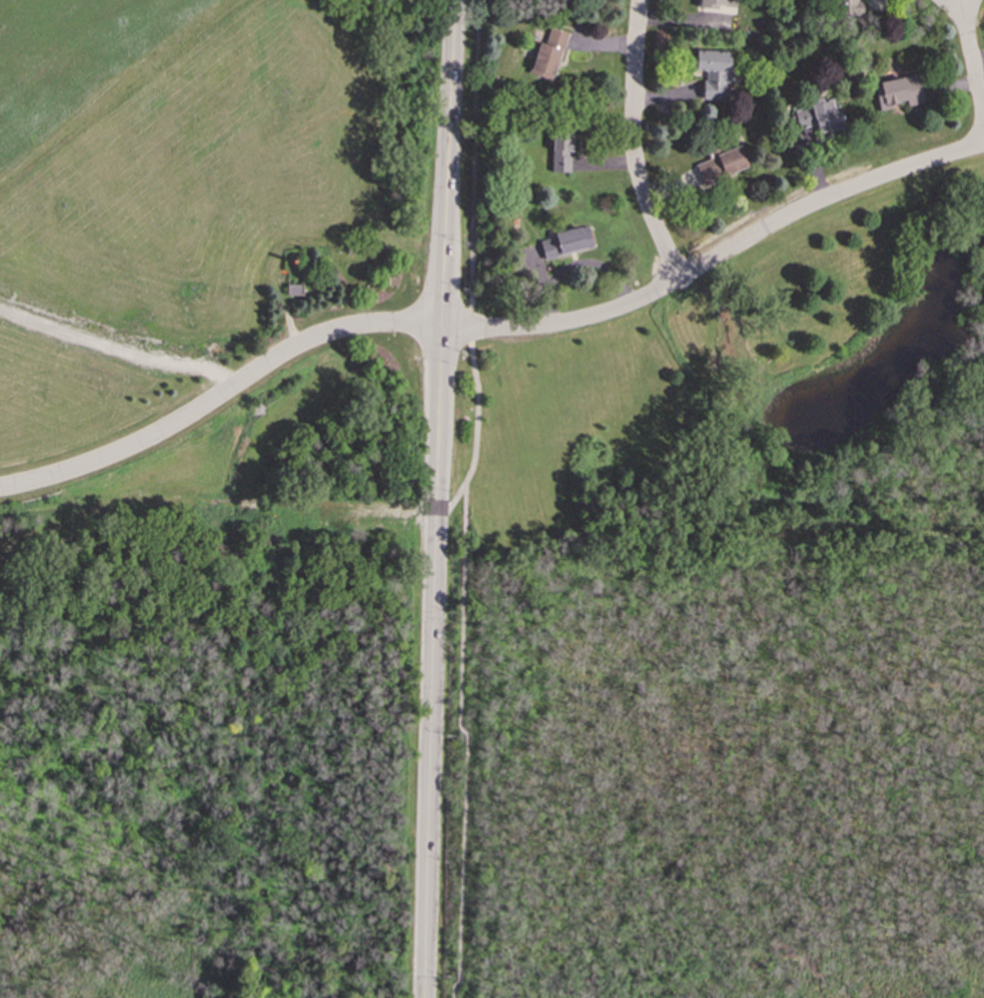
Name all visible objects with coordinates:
building: (716, 5)
building: (849, 7)
building: (547, 55)
road: (971, 62)
building: (713, 71)
building: (898, 91)
building: (819, 116)
road: (632, 143)
building: (560, 149)
road: (446, 164)
building: (721, 165)
building: (566, 242)
road: (716, 257)
road: (470, 266)
road: (123, 344)
park: (730, 377)
road: (220, 397)
road: (438, 425)
road: (465, 487)
road: (466, 745)
road: (430, 750)
road: (423, 989)

